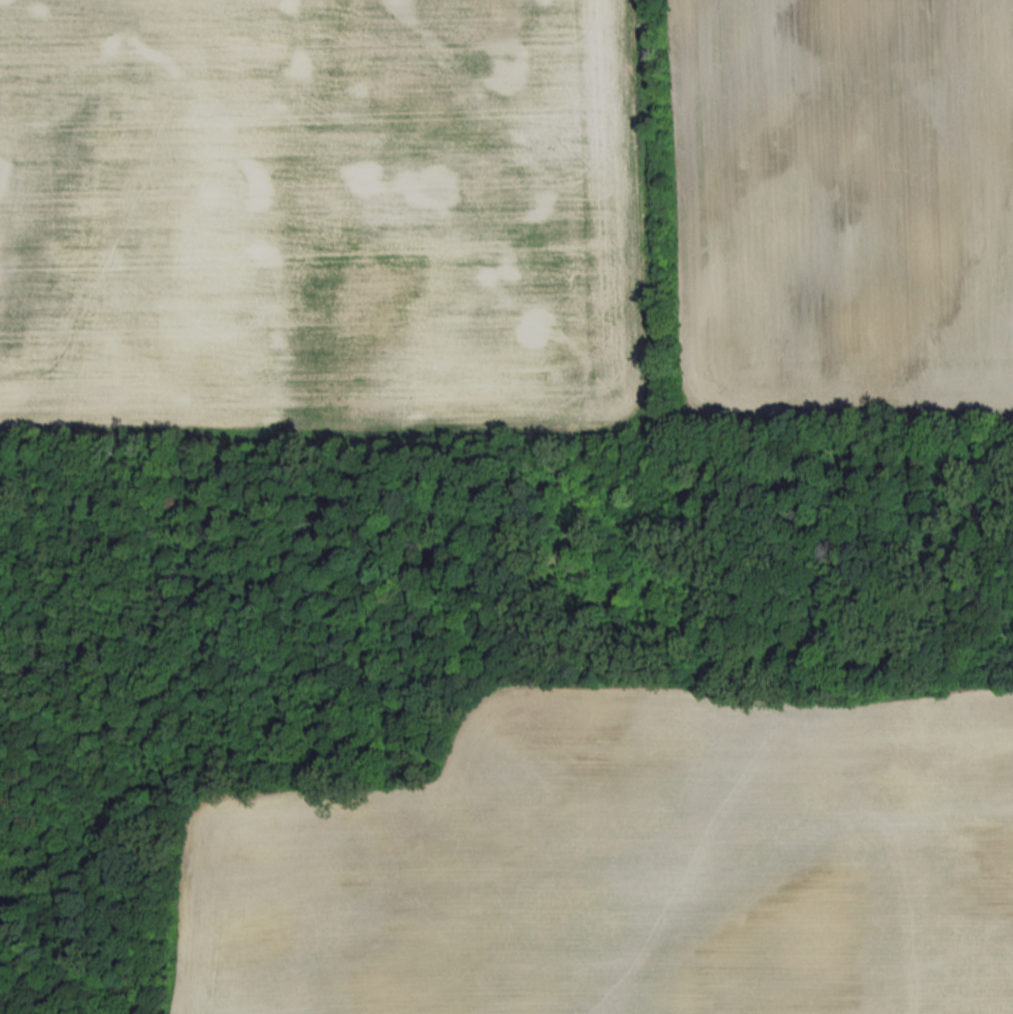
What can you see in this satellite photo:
crop: (844, 209)
crop: (317, 215)
crop: (624, 864)

